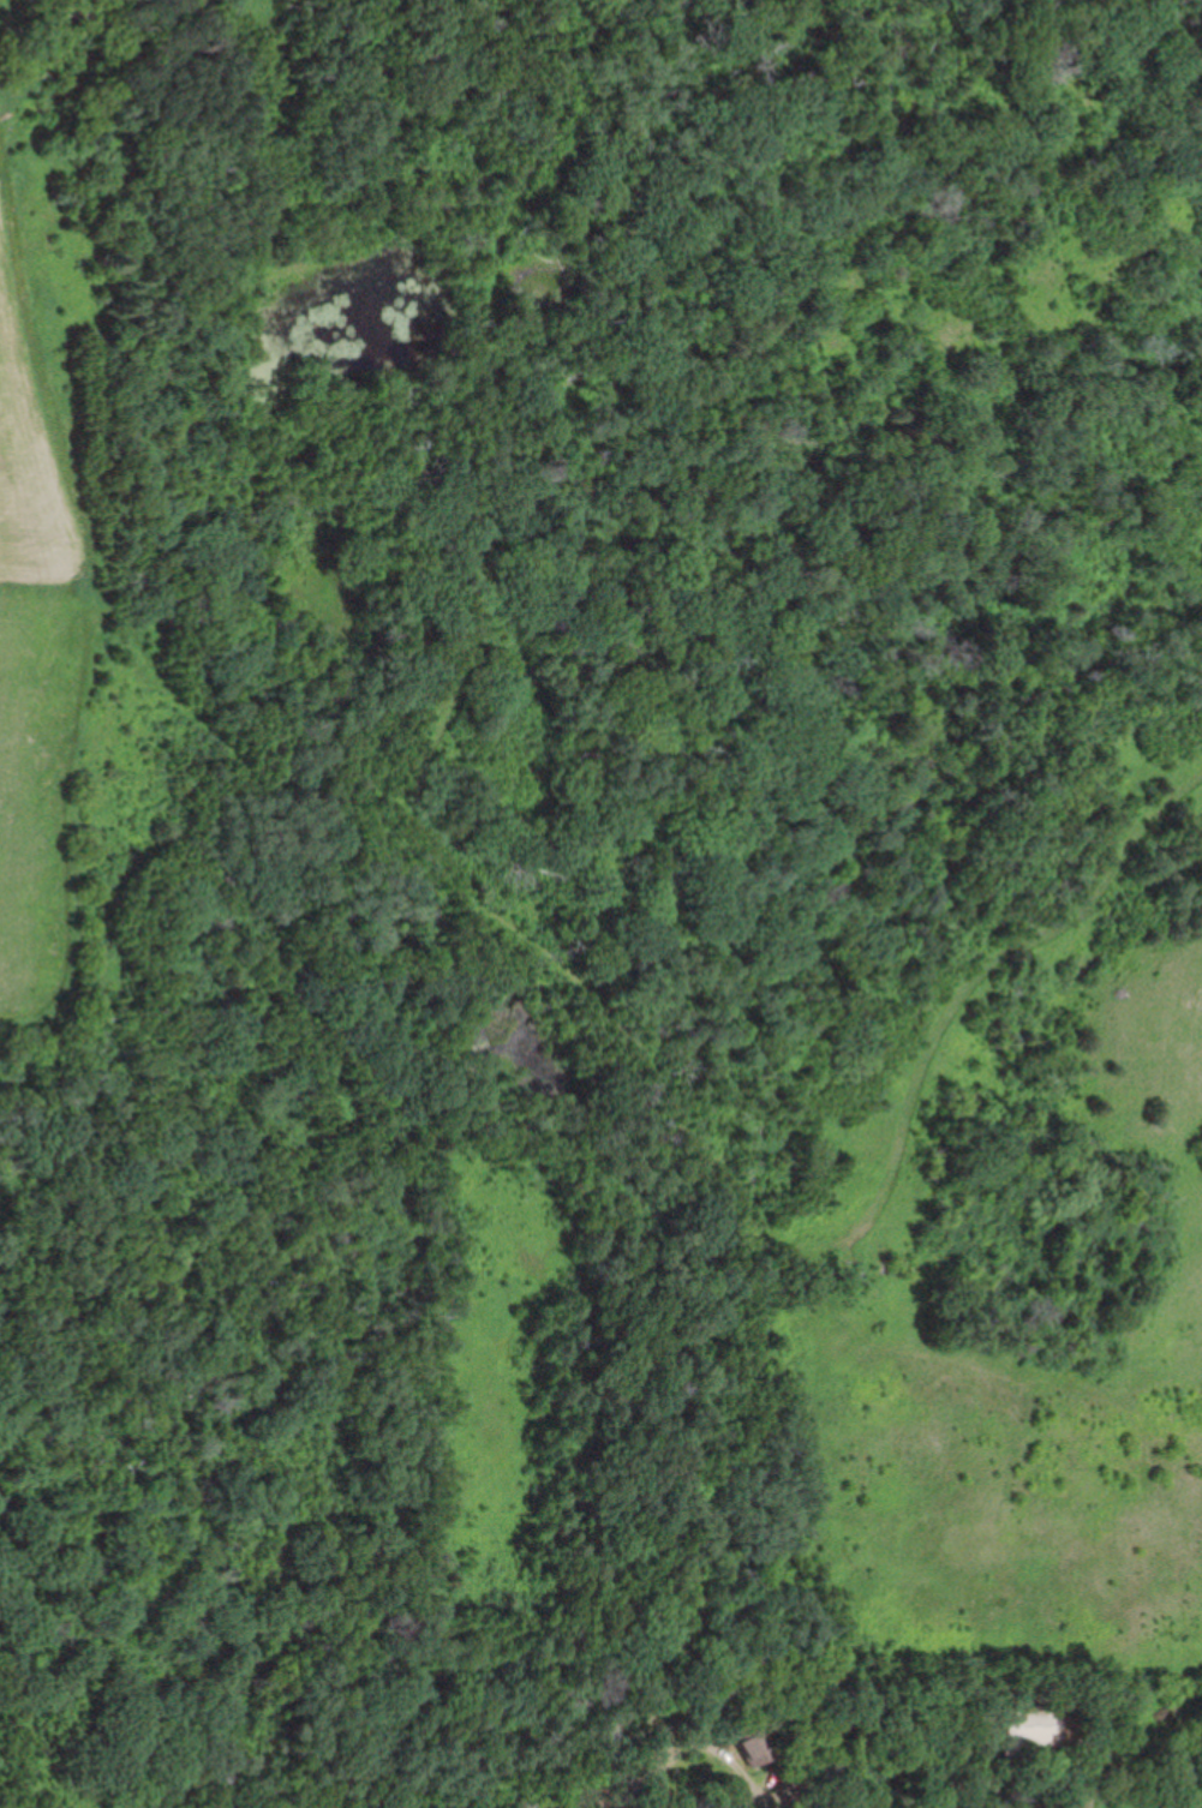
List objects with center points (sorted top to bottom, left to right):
park: (591, 876)
road: (542, 954)
building: (1029, 1726)
building: (753, 1741)

